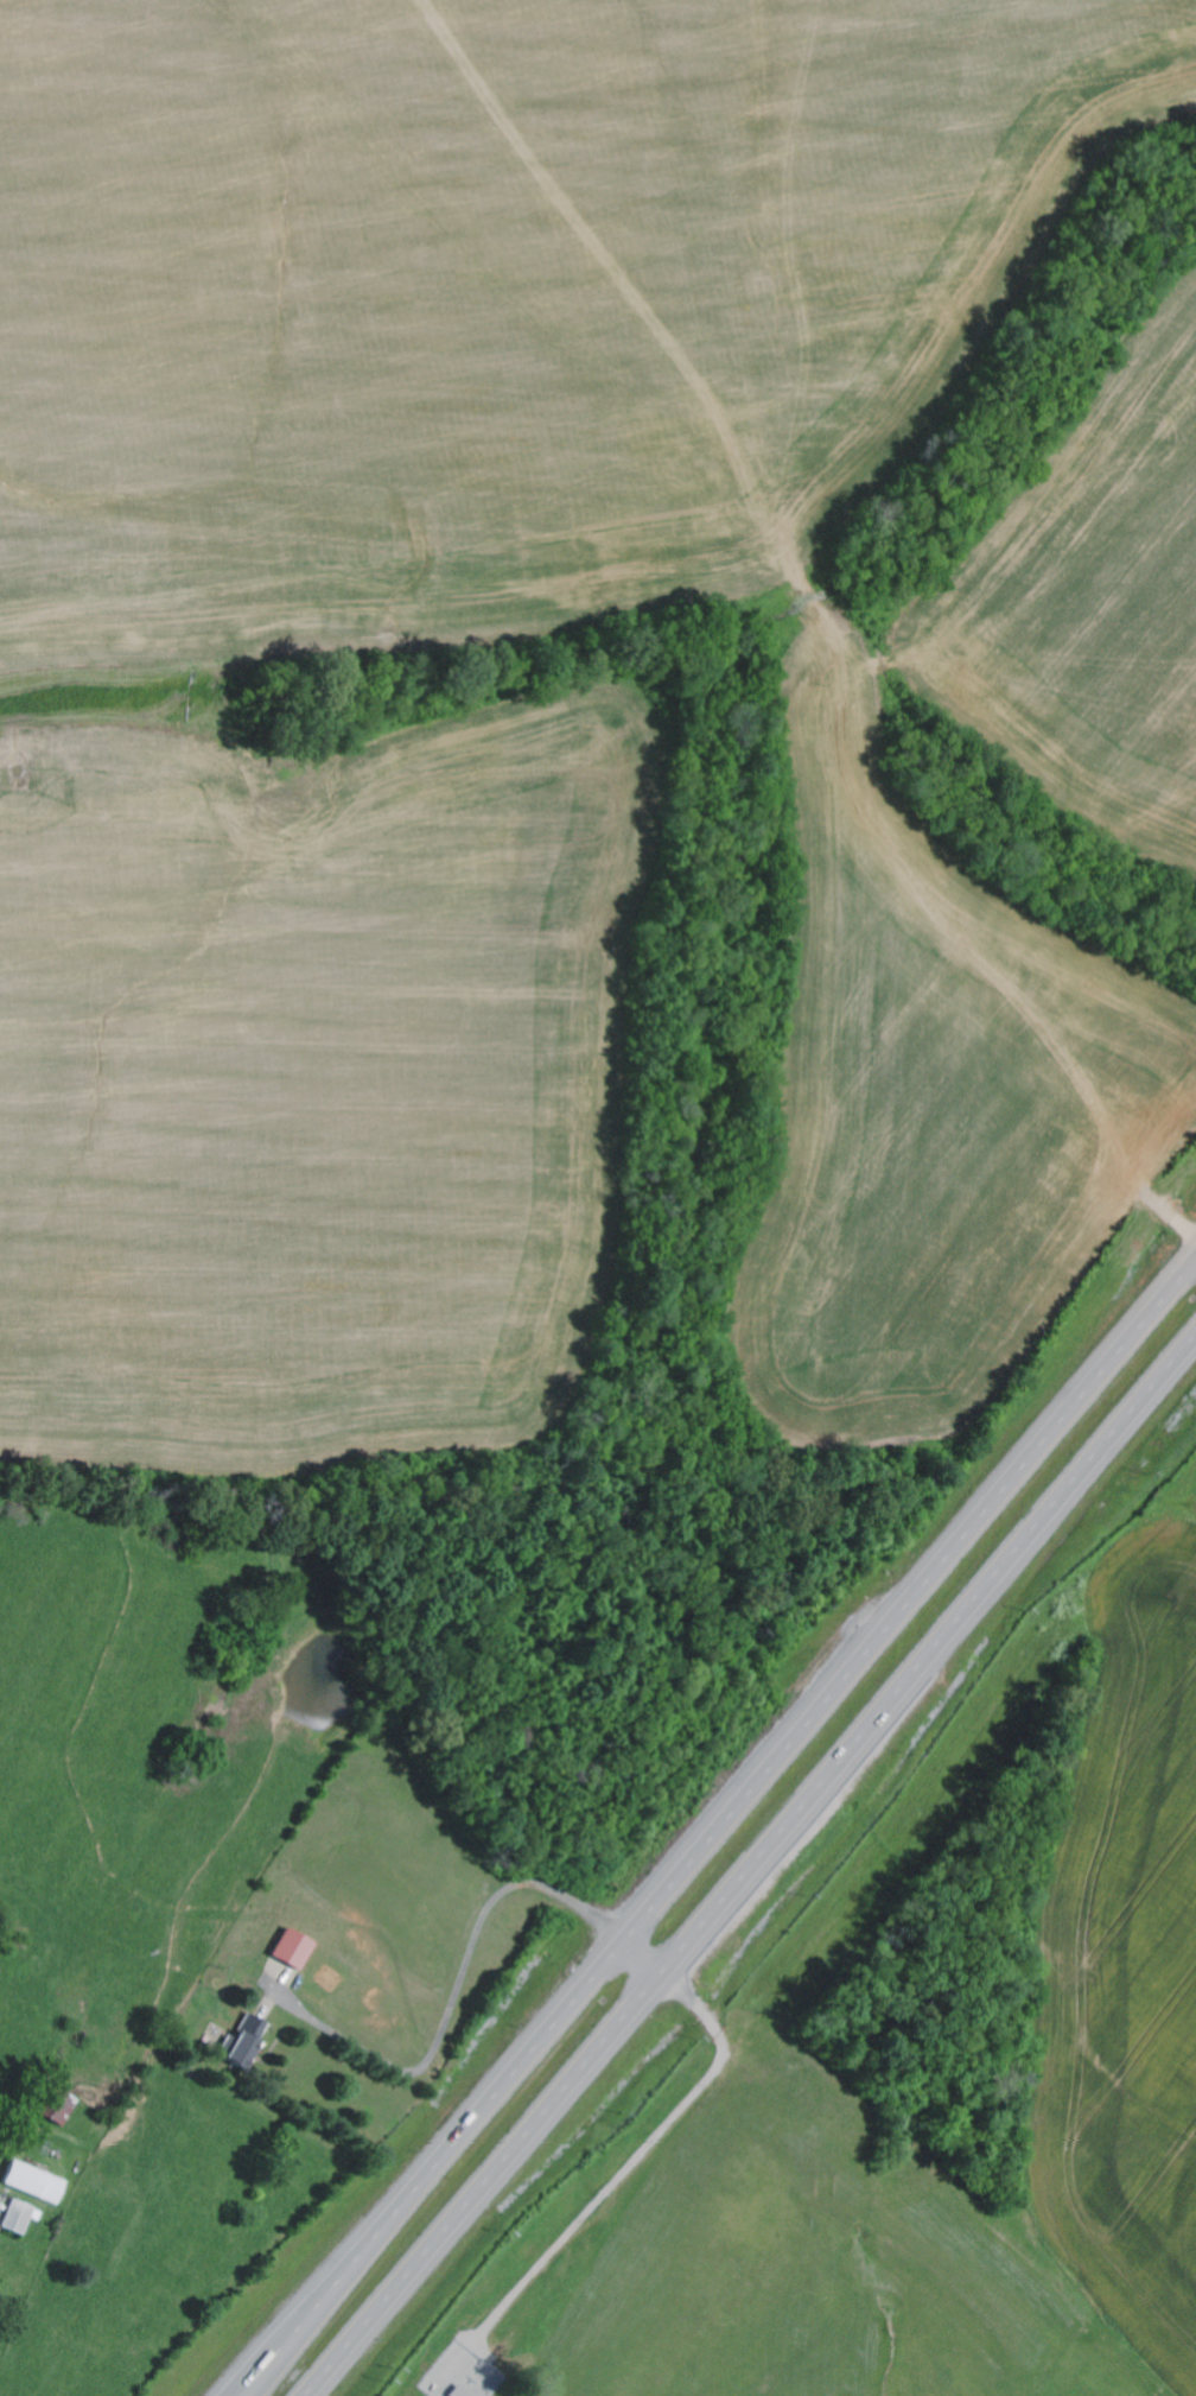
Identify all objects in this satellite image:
road: (718, 1826)
road: (755, 1870)
building: (293, 1950)
road: (456, 1994)
building: (247, 2043)
building: (63, 2110)
building: (34, 2183)
building: (20, 2218)
building: (460, 2391)

